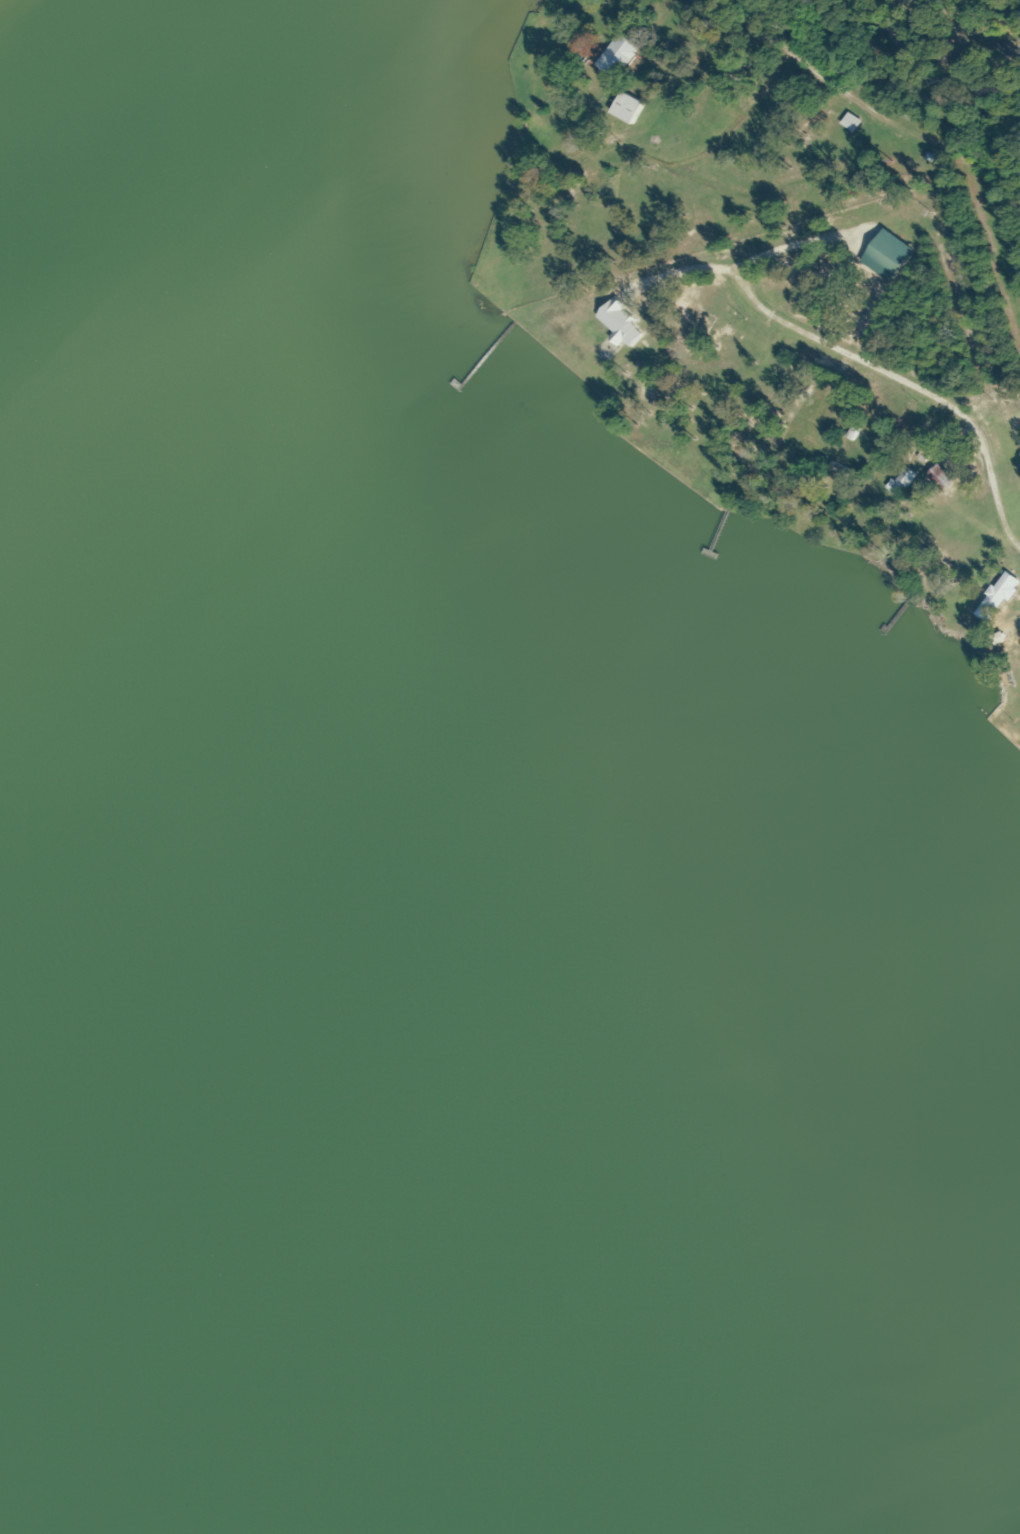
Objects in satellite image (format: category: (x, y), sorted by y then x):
road: (934, 45)
building: (613, 57)
building: (715, 60)
building: (624, 108)
building: (850, 122)
building: (598, 189)
road: (935, 333)
building: (938, 477)
building: (900, 482)
building: (1019, 588)
building: (994, 597)
building: (117, 681)
building: (249, 836)
building: (63, 838)

